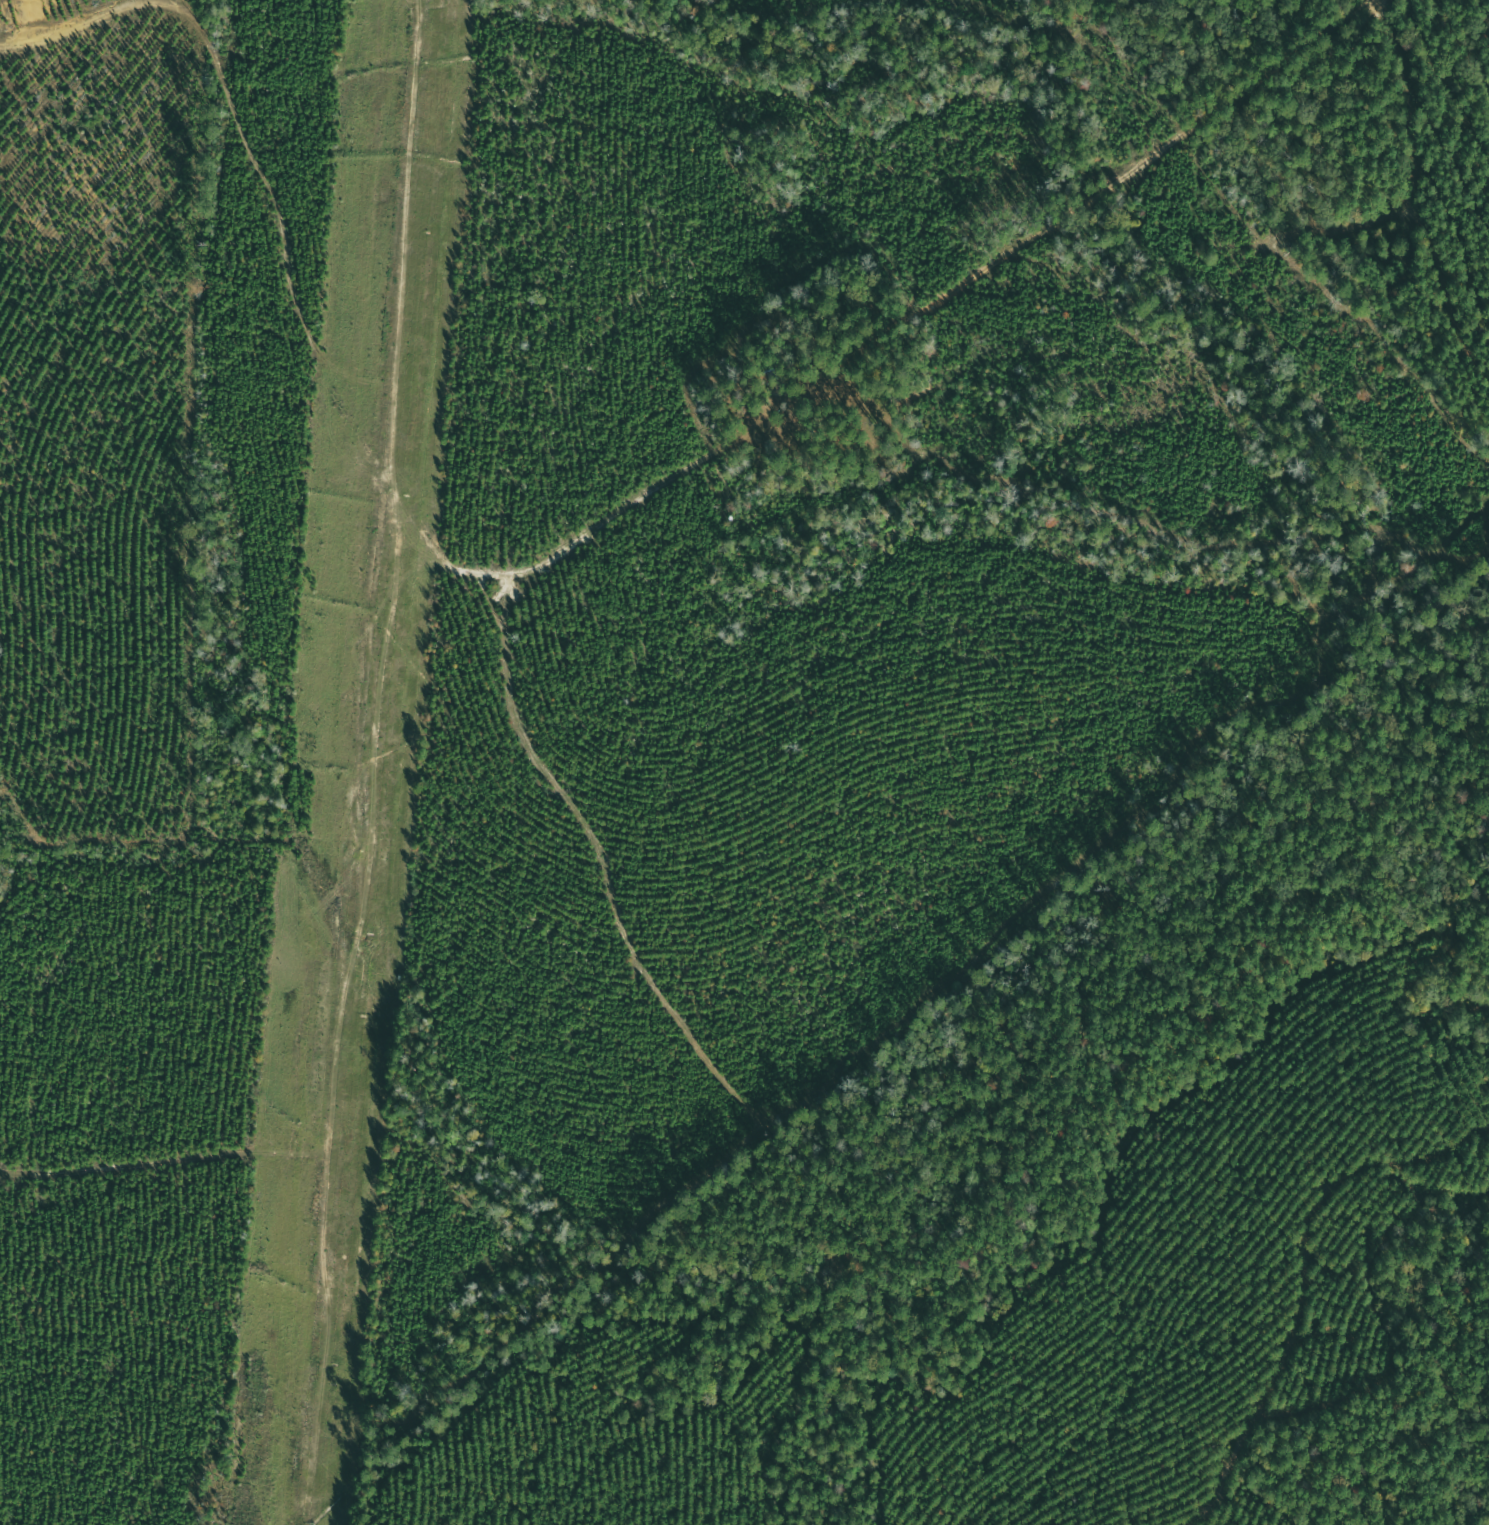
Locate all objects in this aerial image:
building: (786, 423)

